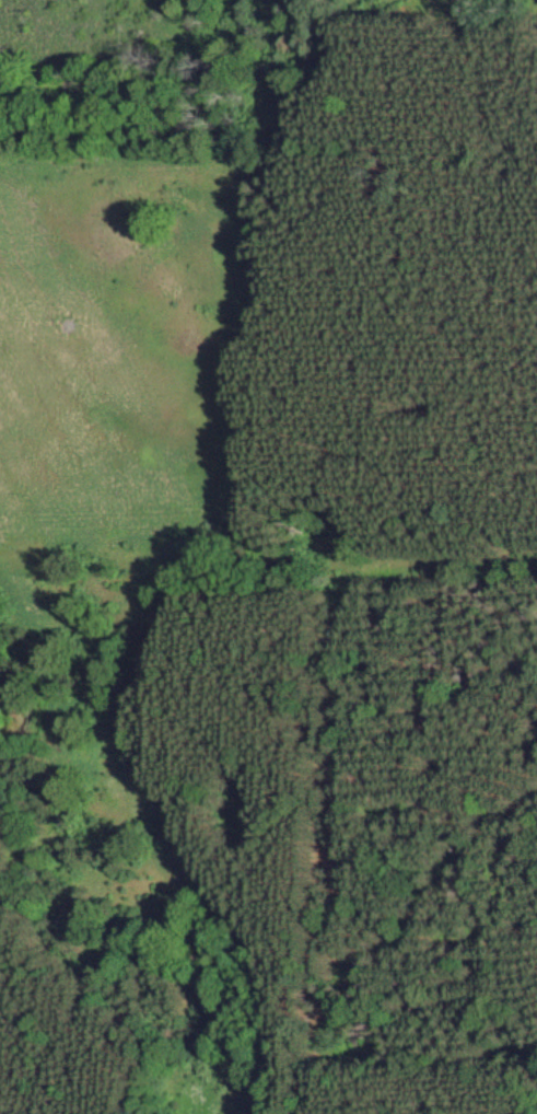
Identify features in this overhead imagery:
road: (264, 554)

